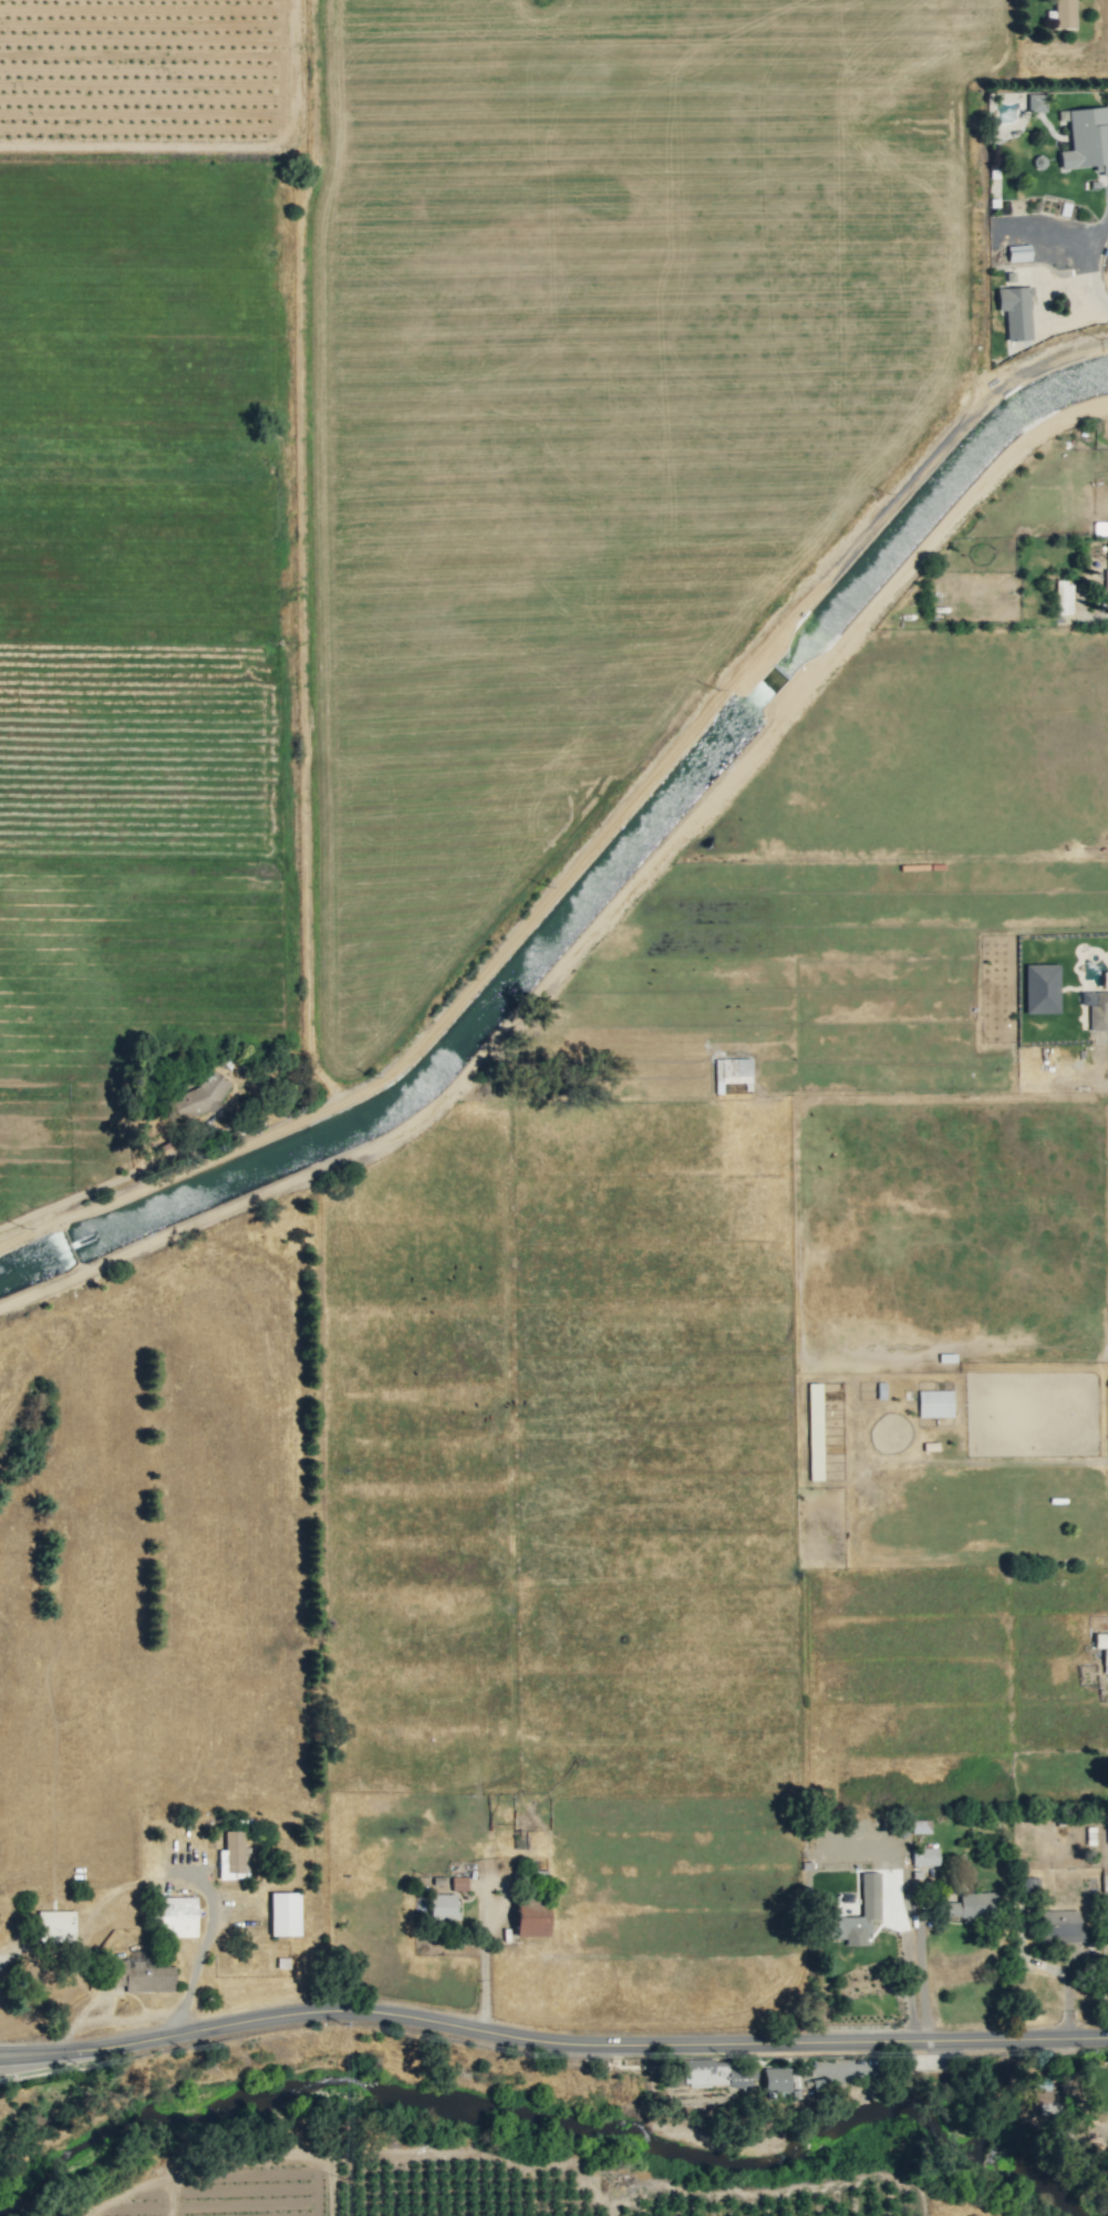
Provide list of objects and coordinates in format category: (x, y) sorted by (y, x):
building: (1064, 13)
building: (1036, 102)
building: (1086, 138)
building: (1017, 252)
road: (1087, 267)
building: (1015, 311)
building: (1105, 580)
building: (1063, 598)
building: (1042, 988)
building: (1096, 1008)
building: (204, 1094)
building: (934, 1402)
building: (815, 1431)
building: (1100, 1639)
building: (1105, 1660)
building: (920, 1826)
building: (231, 1855)
building: (924, 1856)
building: (458, 1883)
building: (1029, 1886)
building: (869, 1893)
building: (442, 1905)
building: (973, 1905)
building: (284, 1914)
building: (177, 1916)
building: (531, 1918)
building: (55, 1925)
building: (1060, 1926)
road: (200, 1951)
road: (483, 1957)
road: (907, 1969)
building: (142, 1974)
road: (550, 2042)
building: (716, 2073)
building: (776, 2079)
building: (1047, 2096)

